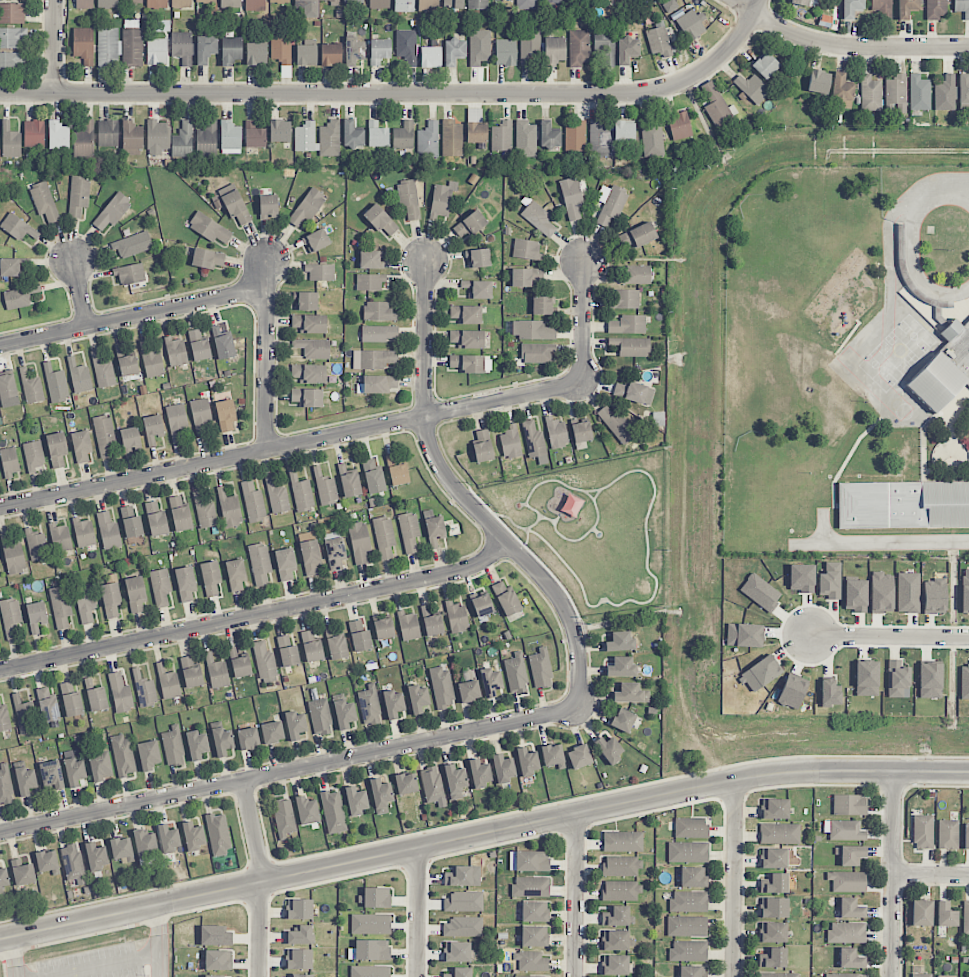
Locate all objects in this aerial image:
building: (601, 0)
building: (205, 1)
building: (279, 1)
building: (329, 1)
building: (353, 1)
building: (551, 1)
building: (132, 2)
building: (799, 2)
building: (181, 3)
building: (83, 4)
building: (108, 4)
building: (156, 4)
building: (230, 4)
building: (379, 4)
building: (453, 4)
building: (478, 4)
building: (526, 4)
building: (254, 5)
building: (428, 5)
building: (404, 6)
building: (670, 6)
building: (307, 8)
building: (851, 8)
building: (962, 8)
building: (881, 9)
building: (936, 9)
building: (12, 13)
building: (690, 25)
building: (12, 37)
building: (659, 39)
building: (83, 45)
building: (530, 45)
road: (847, 45)
road: (55, 46)
building: (132, 47)
building: (182, 47)
building: (479, 48)
building: (579, 48)
building: (206, 49)
building: (280, 49)
building: (231, 50)
building: (379, 50)
building: (416, 50)
building: (627, 50)
building: (156, 51)
building: (354, 51)
building: (554, 51)
building: (505, 52)
building: (606, 52)
building: (256, 53)
building: (331, 54)
building: (306, 55)
building: (11, 61)
building: (765, 65)
building: (818, 81)
building: (752, 88)
building: (963, 90)
building: (842, 91)
road: (399, 93)
building: (870, 93)
building: (919, 93)
building: (895, 94)
building: (945, 94)
building: (716, 105)
building: (679, 125)
building: (280, 131)
building: (624, 131)
building: (476, 132)
building: (108, 133)
building: (34, 134)
building: (58, 135)
building: (254, 135)
building: (352, 135)
building: (377, 135)
building: (549, 135)
building: (403, 136)
building: (501, 136)
building: (575, 136)
building: (158, 137)
building: (230, 137)
building: (305, 137)
building: (598, 137)
building: (84, 138)
building: (132, 138)
building: (207, 138)
building: (451, 138)
building: (652, 138)
building: (329, 139)
building: (525, 139)
building: (183, 140)
building: (428, 140)
building: (10, 141)
road: (963, 181)
building: (78, 195)
building: (409, 198)
building: (571, 198)
building: (442, 199)
building: (44, 201)
building: (234, 204)
building: (610, 204)
building: (268, 206)
building: (307, 206)
building: (112, 211)
building: (537, 217)
building: (380, 220)
building: (470, 224)
building: (18, 227)
building: (209, 228)
building: (637, 236)
building: (316, 241)
road: (909, 245)
building: (128, 246)
building: (526, 249)
building: (207, 258)
building: (478, 258)
building: (371, 260)
building: (10, 267)
building: (320, 272)
building: (130, 274)
building: (635, 274)
building: (525, 278)
building: (369, 282)
building: (478, 289)
road: (80, 294)
building: (19, 297)
building: (625, 299)
building: (305, 301)
building: (542, 306)
building: (378, 311)
building: (466, 314)
road: (132, 318)
building: (309, 323)
building: (627, 324)
building: (532, 330)
building: (379, 333)
building: (467, 338)
building: (222, 343)
building: (199, 345)
building: (631, 346)
building: (313, 348)
building: (176, 351)
building: (537, 353)
road: (266, 355)
building: (373, 359)
building: (151, 360)
building: (471, 363)
building: (128, 366)
building: (944, 368)
building: (103, 371)
building: (309, 373)
building: (79, 377)
building: (7, 384)
building: (56, 384)
building: (377, 384)
building: (31, 386)
building: (634, 393)
building: (307, 397)
building: (225, 415)
building: (200, 416)
building: (176, 421)
building: (616, 424)
building: (152, 429)
building: (581, 432)
building: (556, 433)
road: (351, 434)
building: (105, 436)
building: (130, 439)
building: (510, 442)
building: (534, 442)
building: (482, 445)
building: (81, 446)
building: (57, 449)
building: (34, 455)
building: (9, 462)
building: (398, 474)
building: (373, 477)
building: (349, 481)
building: (325, 487)
building: (301, 493)
building: (277, 497)
road: (465, 500)
building: (253, 502)
building: (903, 505)
building: (229, 509)
building: (205, 512)
building: (180, 515)
building: (156, 519)
building: (131, 522)
building: (434, 528)
building: (108, 531)
building: (409, 531)
building: (85, 534)
building: (384, 537)
building: (60, 538)
building: (359, 542)
road: (885, 543)
building: (36, 545)
building: (335, 551)
building: (13, 555)
building: (310, 557)
building: (259, 563)
building: (285, 564)
building: (235, 574)
building: (210, 578)
building: (801, 578)
building: (830, 581)
building: (185, 583)
building: (160, 587)
building: (965, 591)
building: (760, 592)
building: (882, 592)
building: (908, 592)
building: (136, 593)
building: (855, 595)
building: (934, 596)
building: (111, 599)
building: (506, 599)
building: (85, 603)
building: (482, 604)
building: (61, 606)
building: (36, 616)
road: (257, 616)
building: (11, 617)
building: (456, 617)
building: (432, 620)
building: (408, 626)
building: (384, 629)
building: (331, 631)
building: (745, 635)
road: (889, 635)
building: (360, 636)
building: (620, 642)
building: (311, 647)
building: (337, 648)
building: (287, 652)
building: (264, 660)
building: (239, 664)
building: (621, 667)
building: (540, 669)
building: (191, 672)
building: (216, 672)
building: (760, 673)
building: (516, 674)
building: (866, 678)
building: (898, 679)
building: (930, 680)
building: (964, 680)
building: (490, 682)
building: (168, 683)
building: (441, 687)
building: (144, 690)
building: (469, 691)
building: (792, 691)
building: (120, 693)
building: (630, 693)
building: (829, 693)
building: (95, 694)
building: (70, 698)
building: (418, 698)
building: (393, 704)
building: (47, 705)
building: (369, 705)
building: (344, 712)
building: (25, 715)
building: (320, 716)
building: (4, 719)
building: (623, 720)
building: (295, 725)
building: (272, 732)
building: (248, 738)
building: (222, 741)
building: (197, 744)
building: (173, 746)
building: (123, 755)
building: (148, 755)
building: (552, 755)
building: (579, 756)
building: (527, 762)
building: (100, 765)
building: (503, 768)
building: (74, 771)
road: (290, 771)
building: (480, 772)
building: (51, 775)
building: (25, 780)
building: (455, 781)
building: (406, 783)
building: (5, 785)
building: (432, 785)
building: (381, 795)
building: (356, 800)
building: (849, 805)
building: (775, 809)
building: (307, 811)
building: (333, 812)
building: (284, 818)
building: (691, 827)
building: (844, 830)
building: (923, 832)
building: (779, 833)
building: (218, 834)
building: (948, 834)
road: (482, 835)
building: (193, 836)
building: (966, 836)
building: (169, 838)
building: (622, 841)
building: (145, 844)
building: (688, 851)
building: (850, 855)
building: (96, 856)
building: (773, 858)
building: (529, 861)
building: (47, 862)
building: (73, 864)
building: (621, 866)
building: (23, 872)
road: (892, 873)
building: (462, 876)
road: (930, 876)
building: (693, 877)
road: (260, 878)
building: (4, 879)
road: (733, 879)
building: (847, 881)
building: (774, 883)
building: (530, 886)
building: (621, 890)
road: (575, 896)
building: (377, 897)
building: (689, 901)
building: (464, 902)
building: (773, 908)
building: (851, 908)
building: (299, 909)
building: (534, 911)
road: (416, 913)
building: (922, 913)
building: (946, 915)
building: (615, 916)
building: (965, 918)
building: (370, 923)
building: (463, 926)
building: (687, 926)
building: (773, 932)
building: (846, 932)
building: (299, 935)
building: (215, 936)
building: (534, 936)
road: (162, 940)
building: (615, 940)
building: (371, 950)
building: (688, 950)
building: (457, 952)
road: (14, 956)
building: (772, 958)
building: (298, 959)
building: (850, 959)
building: (218, 960)
building: (531, 961)
building: (615, 965)
building: (370, 971)
building: (692, 971)
building: (459, 972)
building: (299, 975)
building: (777, 975)
building: (844, 975)
building: (921, 975)
building: (214, 976)
building: (529, 976)
building: (944, 976)

